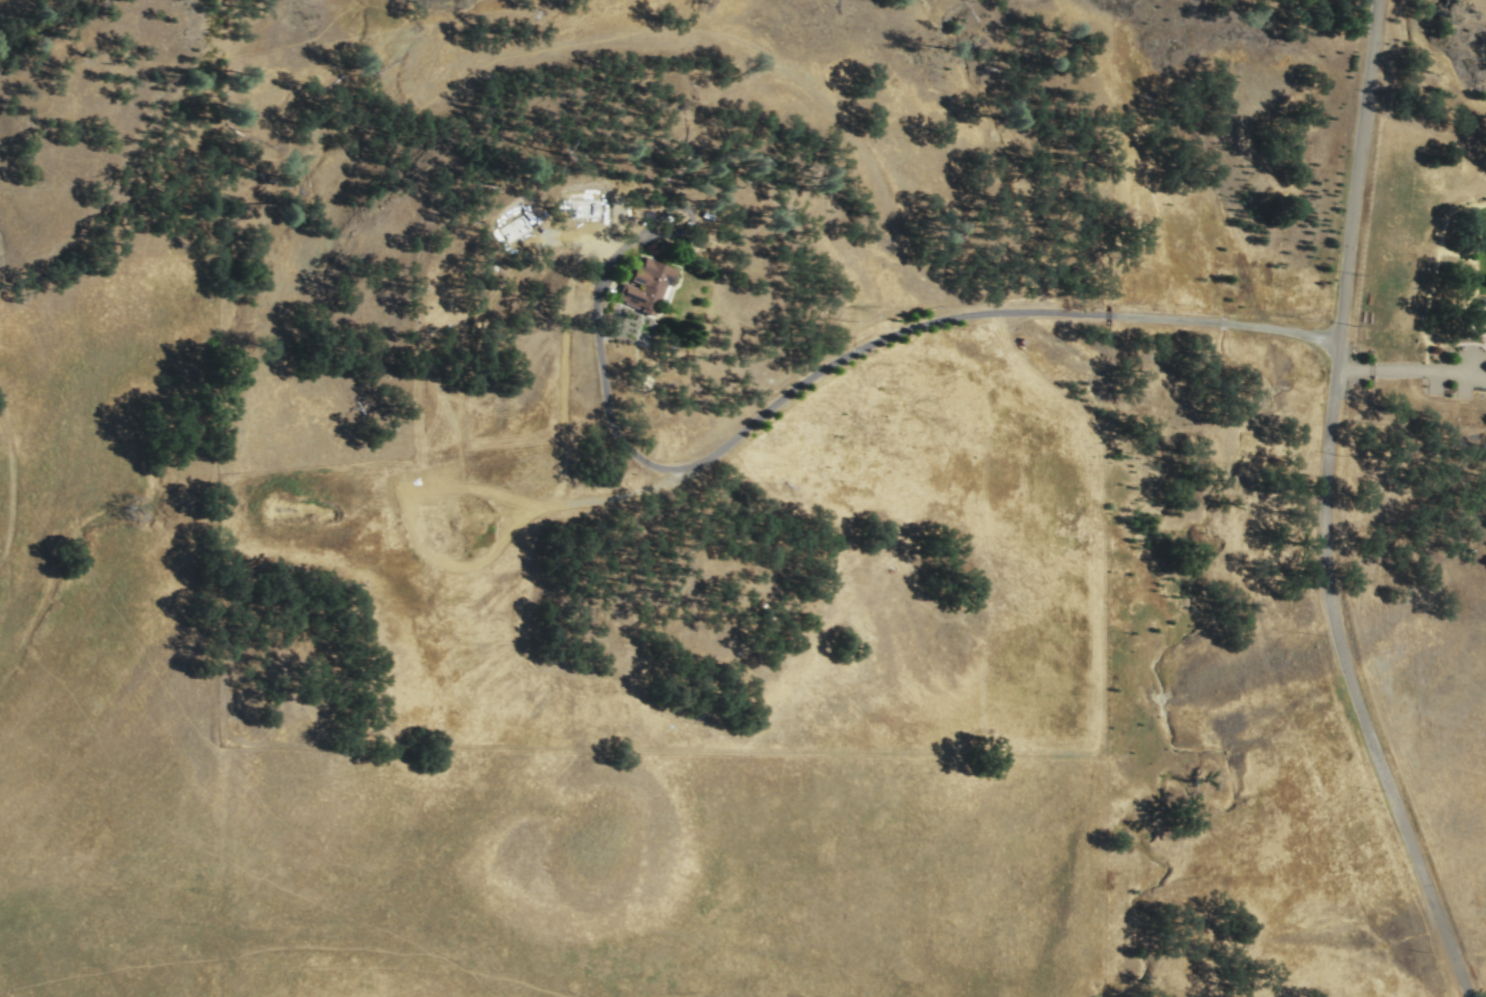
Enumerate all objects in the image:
building: (649, 283)
road: (1406, 368)
road: (789, 390)
road: (16, 487)
road: (1324, 510)

